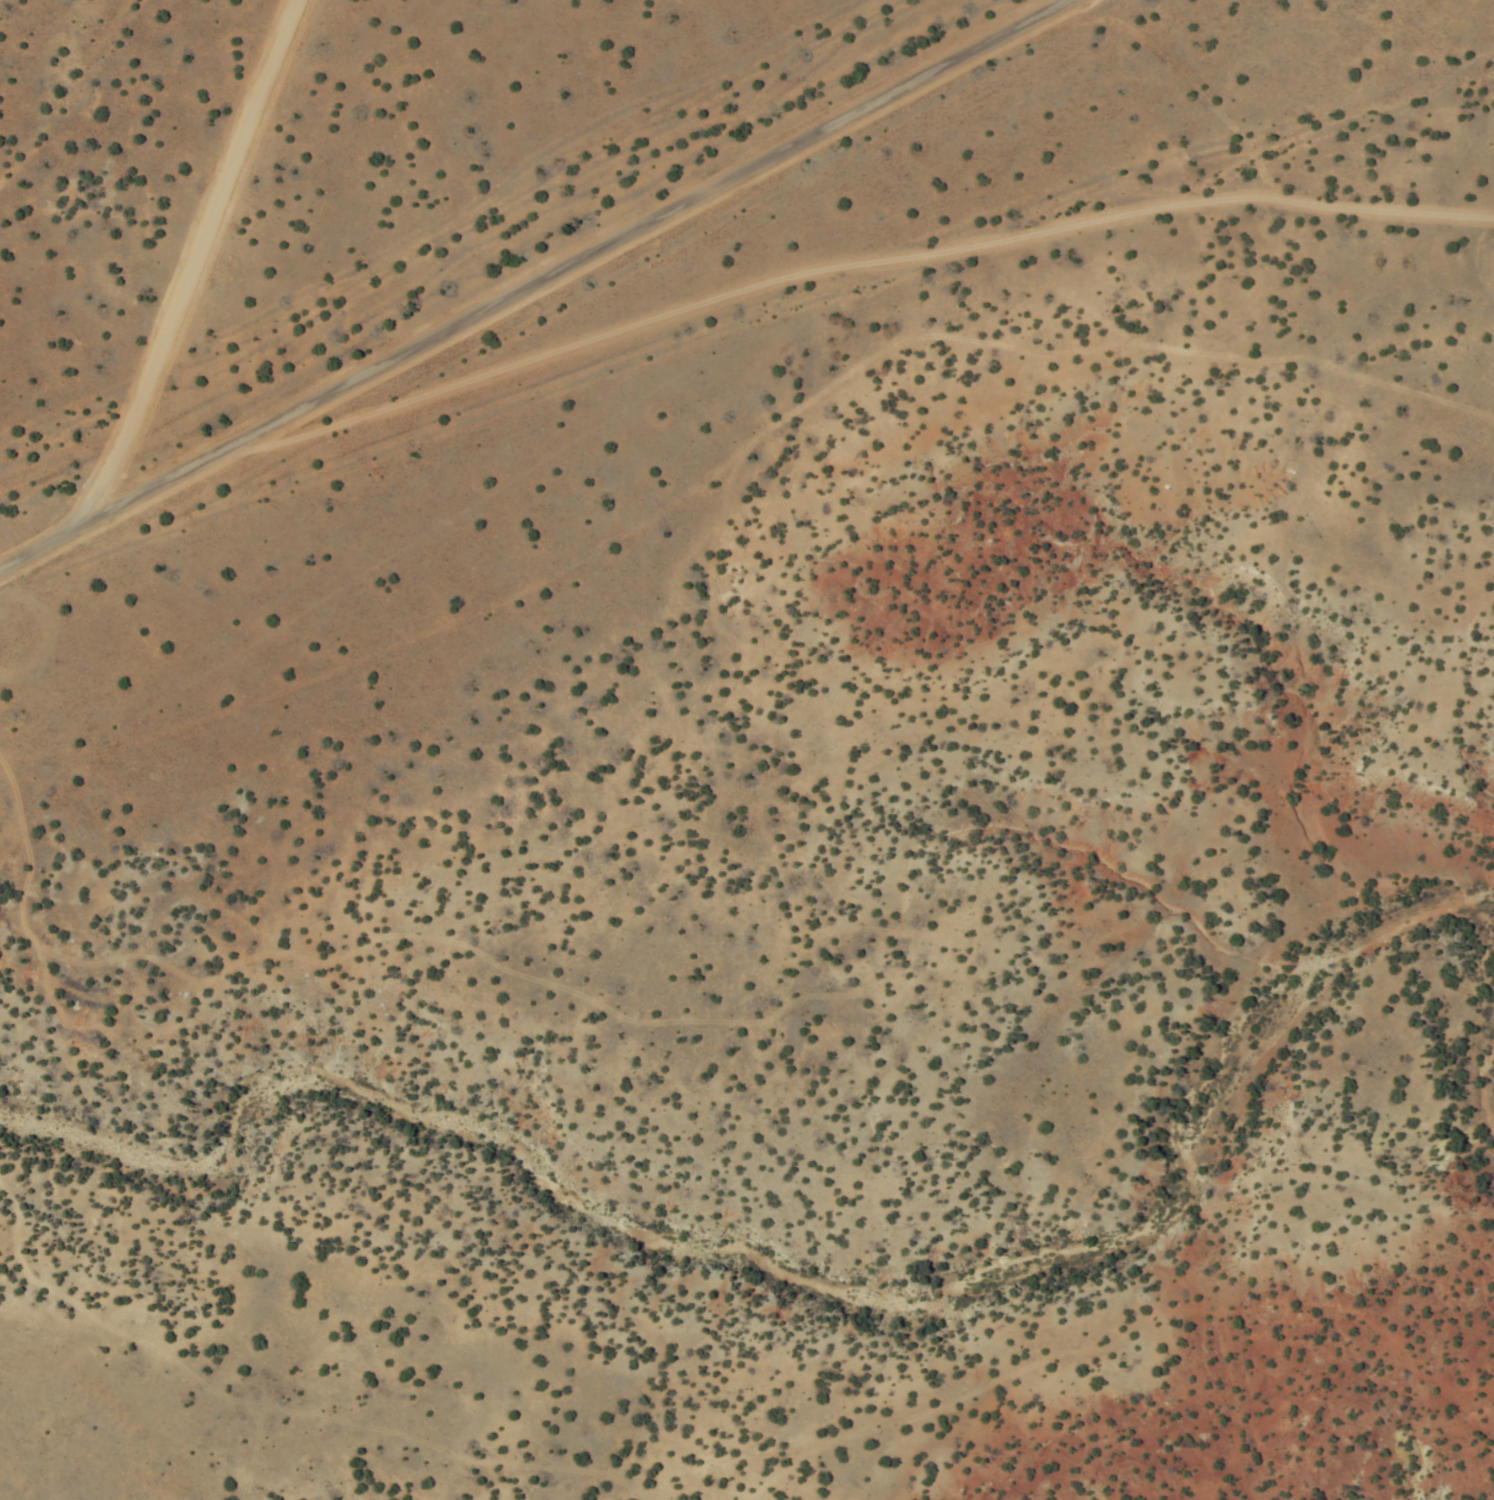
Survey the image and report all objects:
road: (190, 245)
road: (521, 269)

